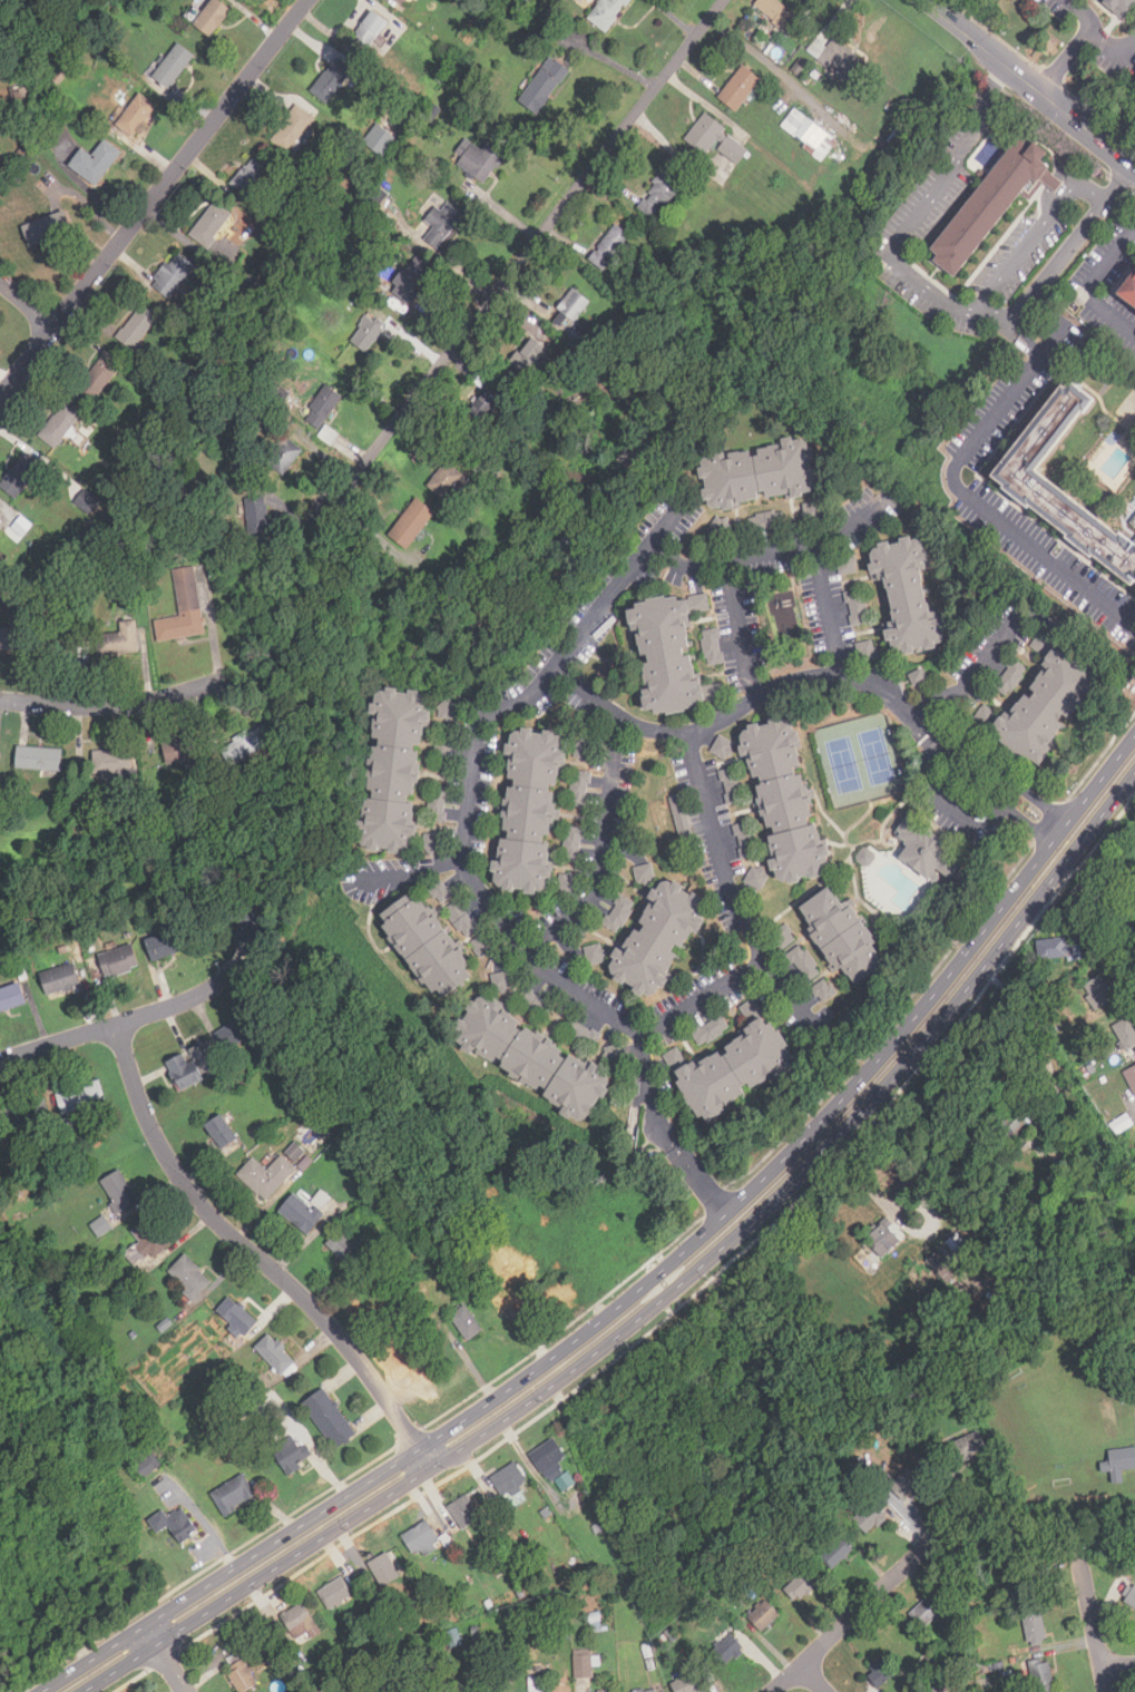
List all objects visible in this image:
building: (401, 1)
building: (1123, 4)
building: (606, 12)
building: (779, 13)
road: (1082, 13)
building: (212, 17)
building: (371, 29)
road: (1114, 48)
building: (841, 59)
road: (1066, 63)
building: (173, 66)
building: (331, 79)
building: (544, 85)
road: (1029, 86)
building: (738, 87)
building: (138, 111)
building: (292, 128)
building: (809, 133)
building: (713, 138)
building: (379, 139)
building: (476, 158)
building: (95, 162)
building: (251, 176)
building: (659, 194)
building: (990, 197)
road: (154, 198)
building: (441, 223)
building: (211, 224)
building: (42, 229)
road: (1034, 237)
building: (609, 246)
road: (528, 253)
building: (173, 274)
building: (410, 278)
road: (1085, 282)
building: (1128, 288)
road: (932, 295)
road: (26, 304)
building: (570, 309)
building: (137, 325)
building: (366, 332)
building: (581, 336)
building: (529, 358)
building: (97, 378)
building: (482, 403)
building: (321, 407)
building: (59, 424)
building: (283, 454)
building: (759, 472)
building: (20, 473)
building: (1019, 475)
building: (446, 479)
road: (968, 497)
building: (86, 501)
building: (0, 510)
building: (256, 514)
building: (763, 520)
building: (411, 522)
building: (1133, 524)
building: (18, 527)
building: (720, 527)
road: (766, 551)
building: (908, 595)
building: (857, 607)
building: (183, 608)
road: (825, 609)
road: (211, 625)
road: (734, 630)
building: (1043, 636)
building: (9, 637)
building: (59, 639)
building: (118, 639)
building: (712, 646)
building: (865, 649)
building: (664, 653)
road: (971, 674)
building: (1010, 676)
building: (917, 677)
road: (116, 703)
building: (1047, 705)
building: (448, 708)
road: (738, 708)
building: (246, 744)
building: (722, 746)
building: (180, 750)
building: (39, 759)
park: (861, 760)
building: (111, 761)
building: (394, 770)
road: (996, 779)
road: (1099, 782)
building: (731, 785)
building: (579, 788)
building: (785, 800)
road: (1108, 805)
building: (529, 810)
road: (966, 819)
road: (464, 828)
building: (745, 840)
building: (574, 842)
building: (926, 849)
road: (601, 850)
building: (644, 872)
road: (408, 873)
building: (756, 877)
building: (617, 911)
road: (737, 915)
building: (242, 918)
building: (461, 918)
road: (1113, 919)
building: (843, 936)
building: (658, 937)
building: (783, 938)
building: (169, 943)
building: (427, 945)
building: (1057, 950)
building: (595, 953)
building: (118, 960)
building: (803, 962)
building: (59, 978)
road: (782, 987)
building: (823, 989)
building: (1097, 990)
building: (10, 997)
road: (118, 1021)
building: (708, 1028)
road: (904, 1028)
building: (237, 1030)
building: (1125, 1031)
road: (921, 1041)
building: (532, 1056)
building: (192, 1065)
building: (734, 1067)
building: (1131, 1076)
building: (80, 1097)
building: (26, 1112)
building: (1016, 1121)
building: (1121, 1124)
building: (219, 1131)
building: (296, 1152)
building: (265, 1175)
road: (701, 1180)
building: (118, 1191)
building: (300, 1212)
building: (100, 1225)
building: (882, 1236)
building: (146, 1241)
building: (346, 1248)
building: (958, 1248)
road: (256, 1254)
building: (189, 1277)
building: (235, 1316)
building: (466, 1322)
road: (579, 1337)
road: (593, 1352)
building: (274, 1353)
building: (329, 1418)
building: (966, 1447)
building: (290, 1455)
building: (1121, 1463)
building: (147, 1465)
building: (552, 1465)
building: (508, 1479)
building: (904, 1484)
building: (233, 1495)
building: (463, 1512)
building: (874, 1520)
building: (174, 1524)
building: (420, 1538)
building: (834, 1553)
building: (382, 1568)
road: (231, 1569)
road: (257, 1578)
building: (1024, 1579)
building: (800, 1585)
park: (45, 1587)
building: (334, 1593)
building: (1131, 1597)
road: (860, 1608)
building: (927, 1610)
building: (763, 1615)
building: (299, 1622)
building: (1034, 1625)
road: (1095, 1626)
building: (726, 1649)
road: (162, 1660)
building: (0, 1661)
road: (1118, 1665)
building: (583, 1666)
building: (878, 1672)
building: (241, 1675)
building: (1040, 1675)
road: (814, 1678)
building: (692, 1681)
building: (601, 1691)
building: (646, 1691)

